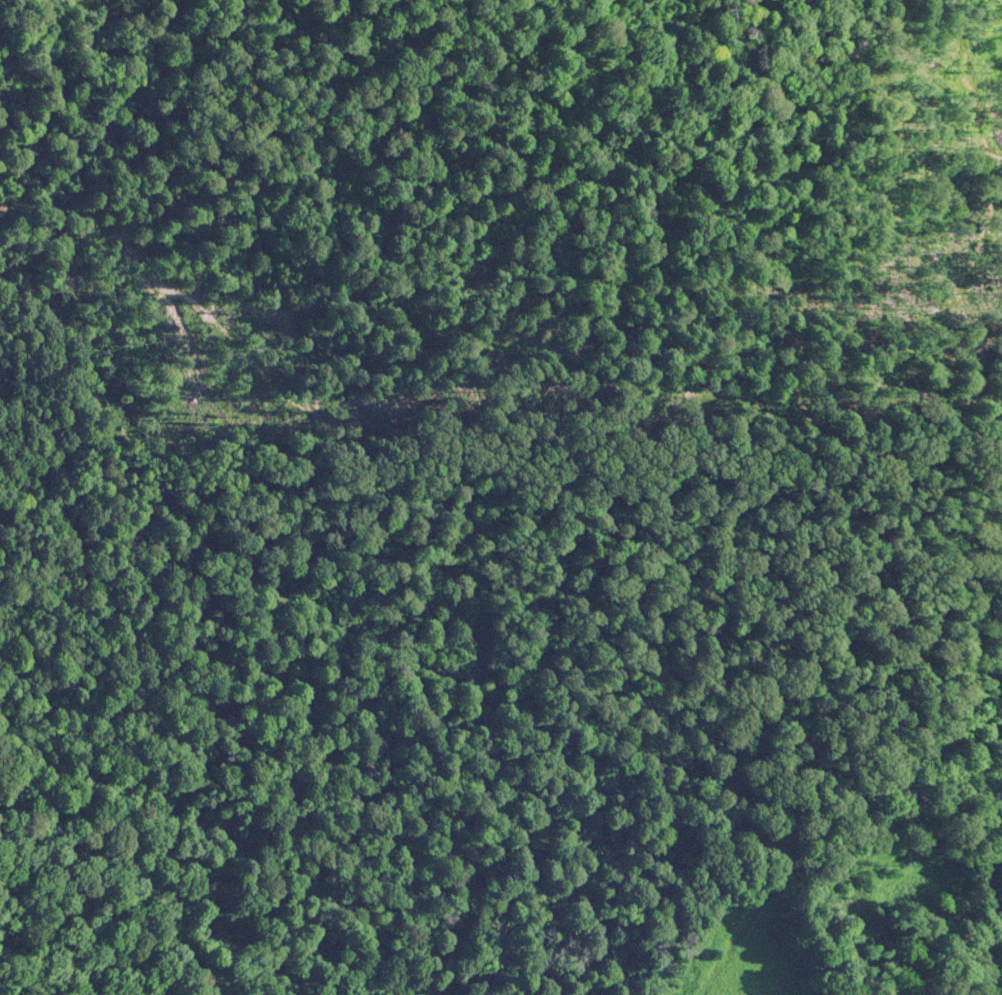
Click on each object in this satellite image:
railway: (401, 653)

